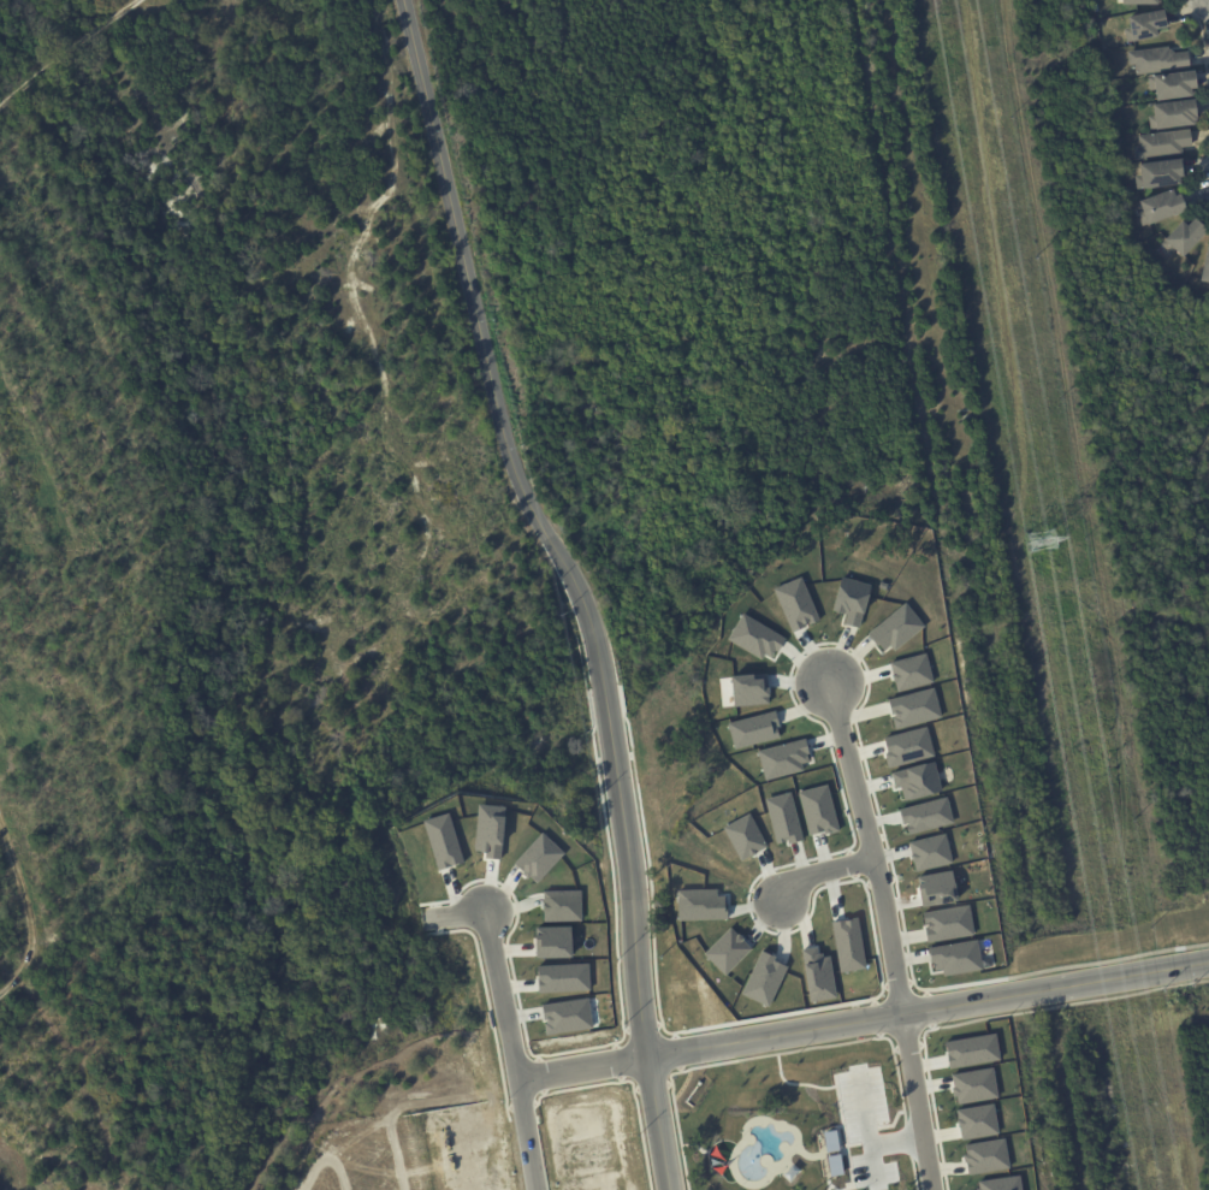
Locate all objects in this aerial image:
building: (1139, 1)
building: (1143, 25)
road: (66, 52)
building: (1157, 60)
building: (1172, 84)
building: (1172, 114)
building: (1162, 144)
building: (1158, 173)
building: (1158, 207)
building: (1181, 237)
building: (1204, 267)
road: (479, 339)
power tower: (1042, 539)
building: (853, 600)
building: (798, 604)
building: (895, 627)
building: (758, 638)
building: (913, 671)
building: (753, 689)
road: (604, 701)
building: (915, 708)
building: (757, 729)
building: (909, 747)
building: (784, 758)
building: (919, 780)
building: (820, 810)
building: (928, 816)
building: (786, 818)
building: (492, 830)
building: (747, 836)
building: (446, 841)
building: (931, 852)
building: (540, 857)
road: (824, 868)
building: (938, 888)
building: (699, 905)
building: (563, 906)
road: (462, 912)
road: (20, 916)
building: (949, 923)
road: (888, 934)
building: (556, 942)
building: (849, 943)
building: (728, 951)
building: (955, 957)
road: (648, 961)
building: (819, 975)
building: (564, 978)
building: (763, 978)
road: (934, 1005)
building: (567, 1016)
road: (512, 1049)
building: (974, 1050)
road: (588, 1065)
building: (976, 1085)
road: (428, 1103)
building: (979, 1121)
building: (834, 1141)
building: (989, 1156)
building: (837, 1165)
building: (1003, 1183)
road: (324, 1186)

